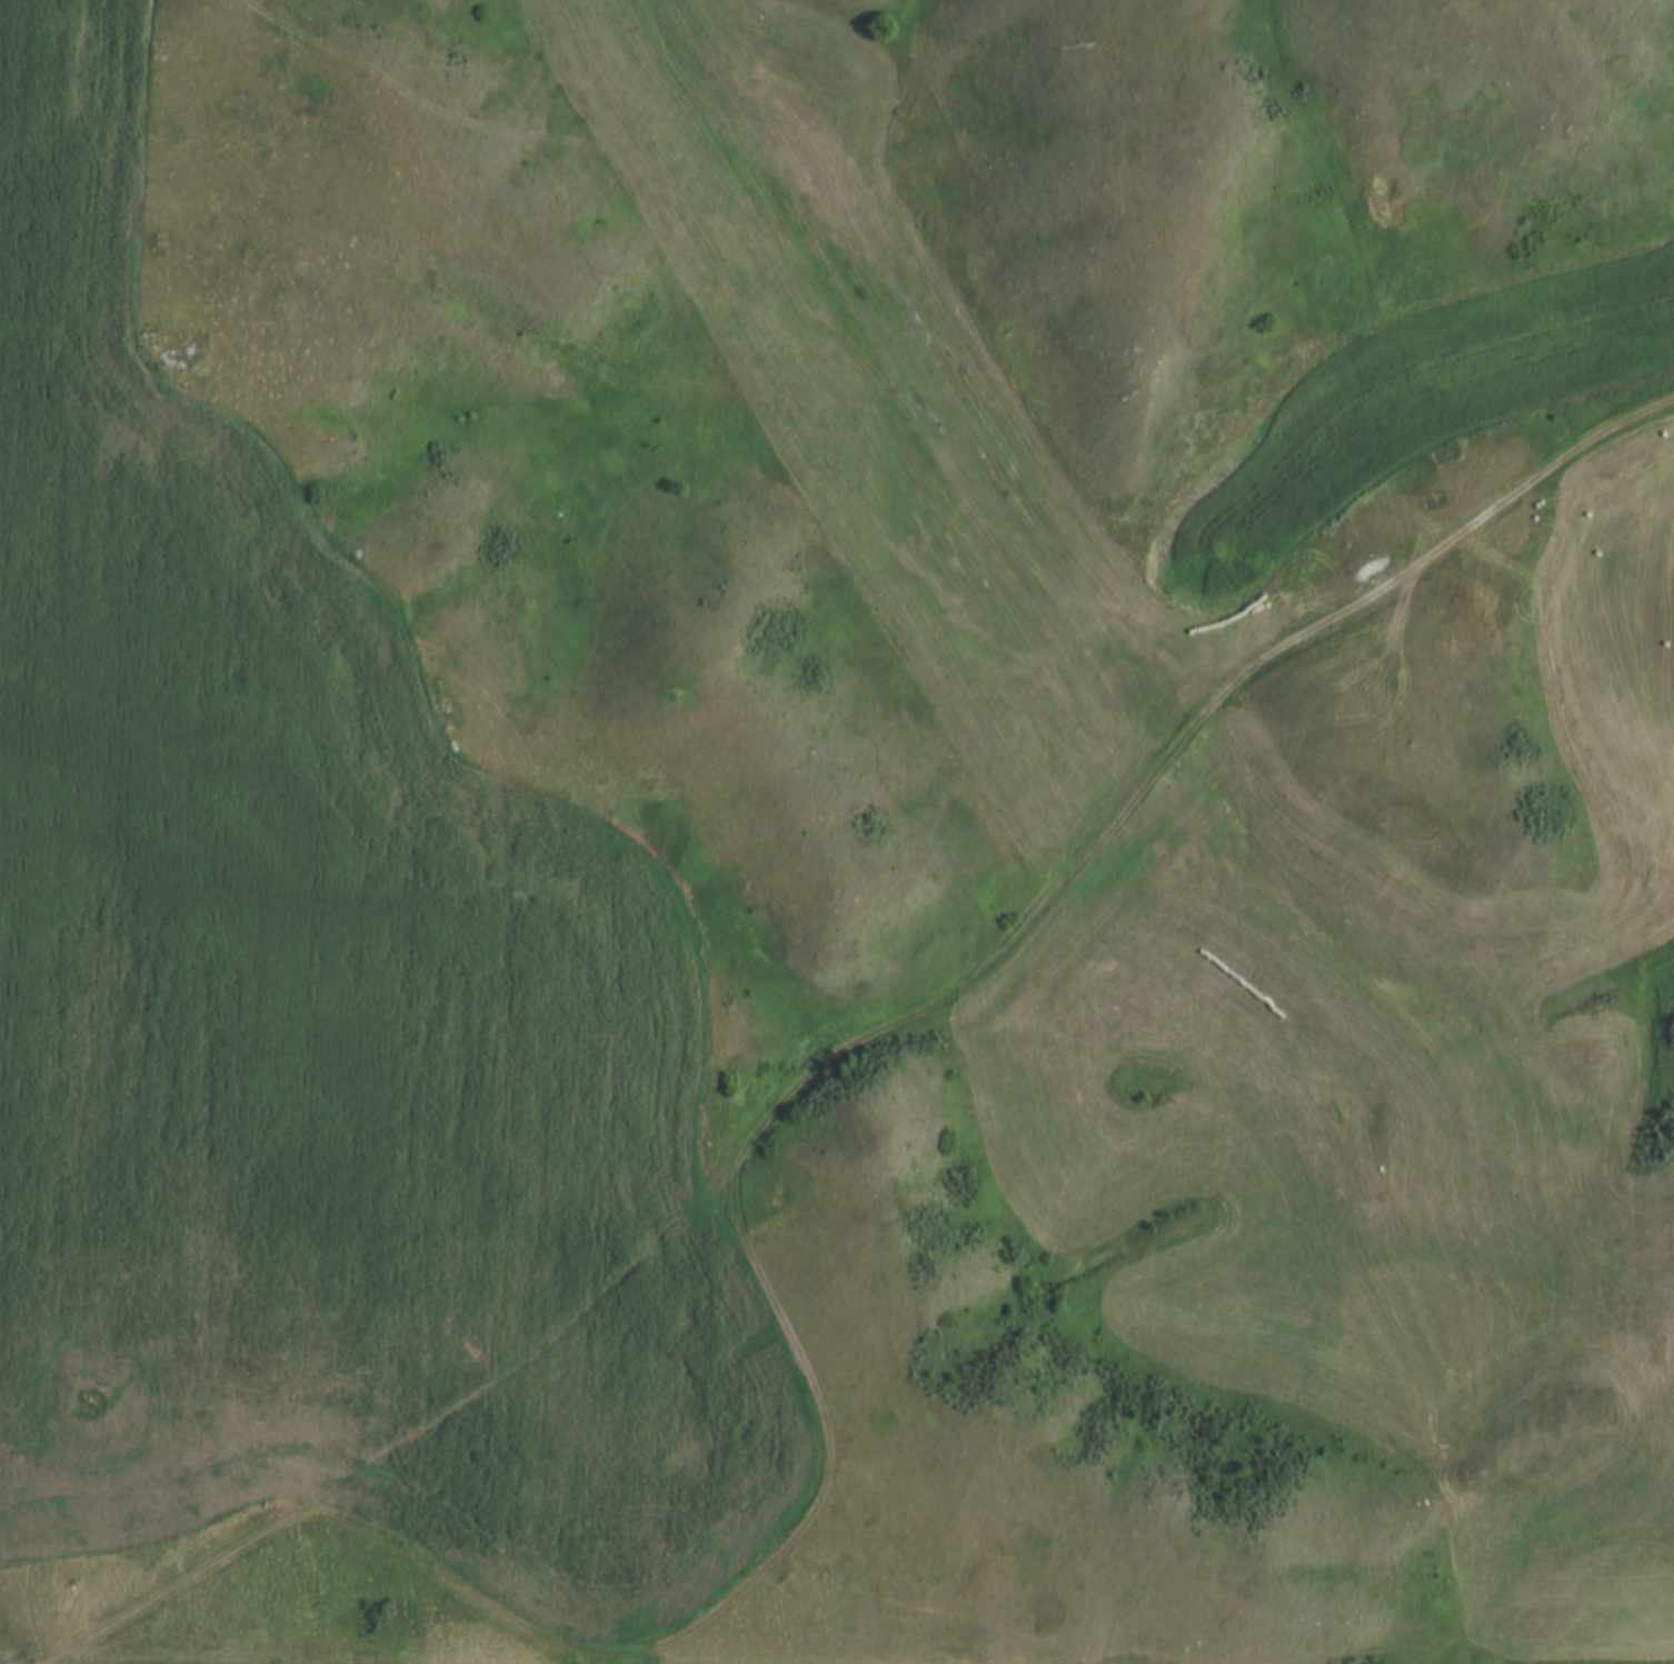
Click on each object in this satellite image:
road: (855, 1078)
road: (47, 1657)

